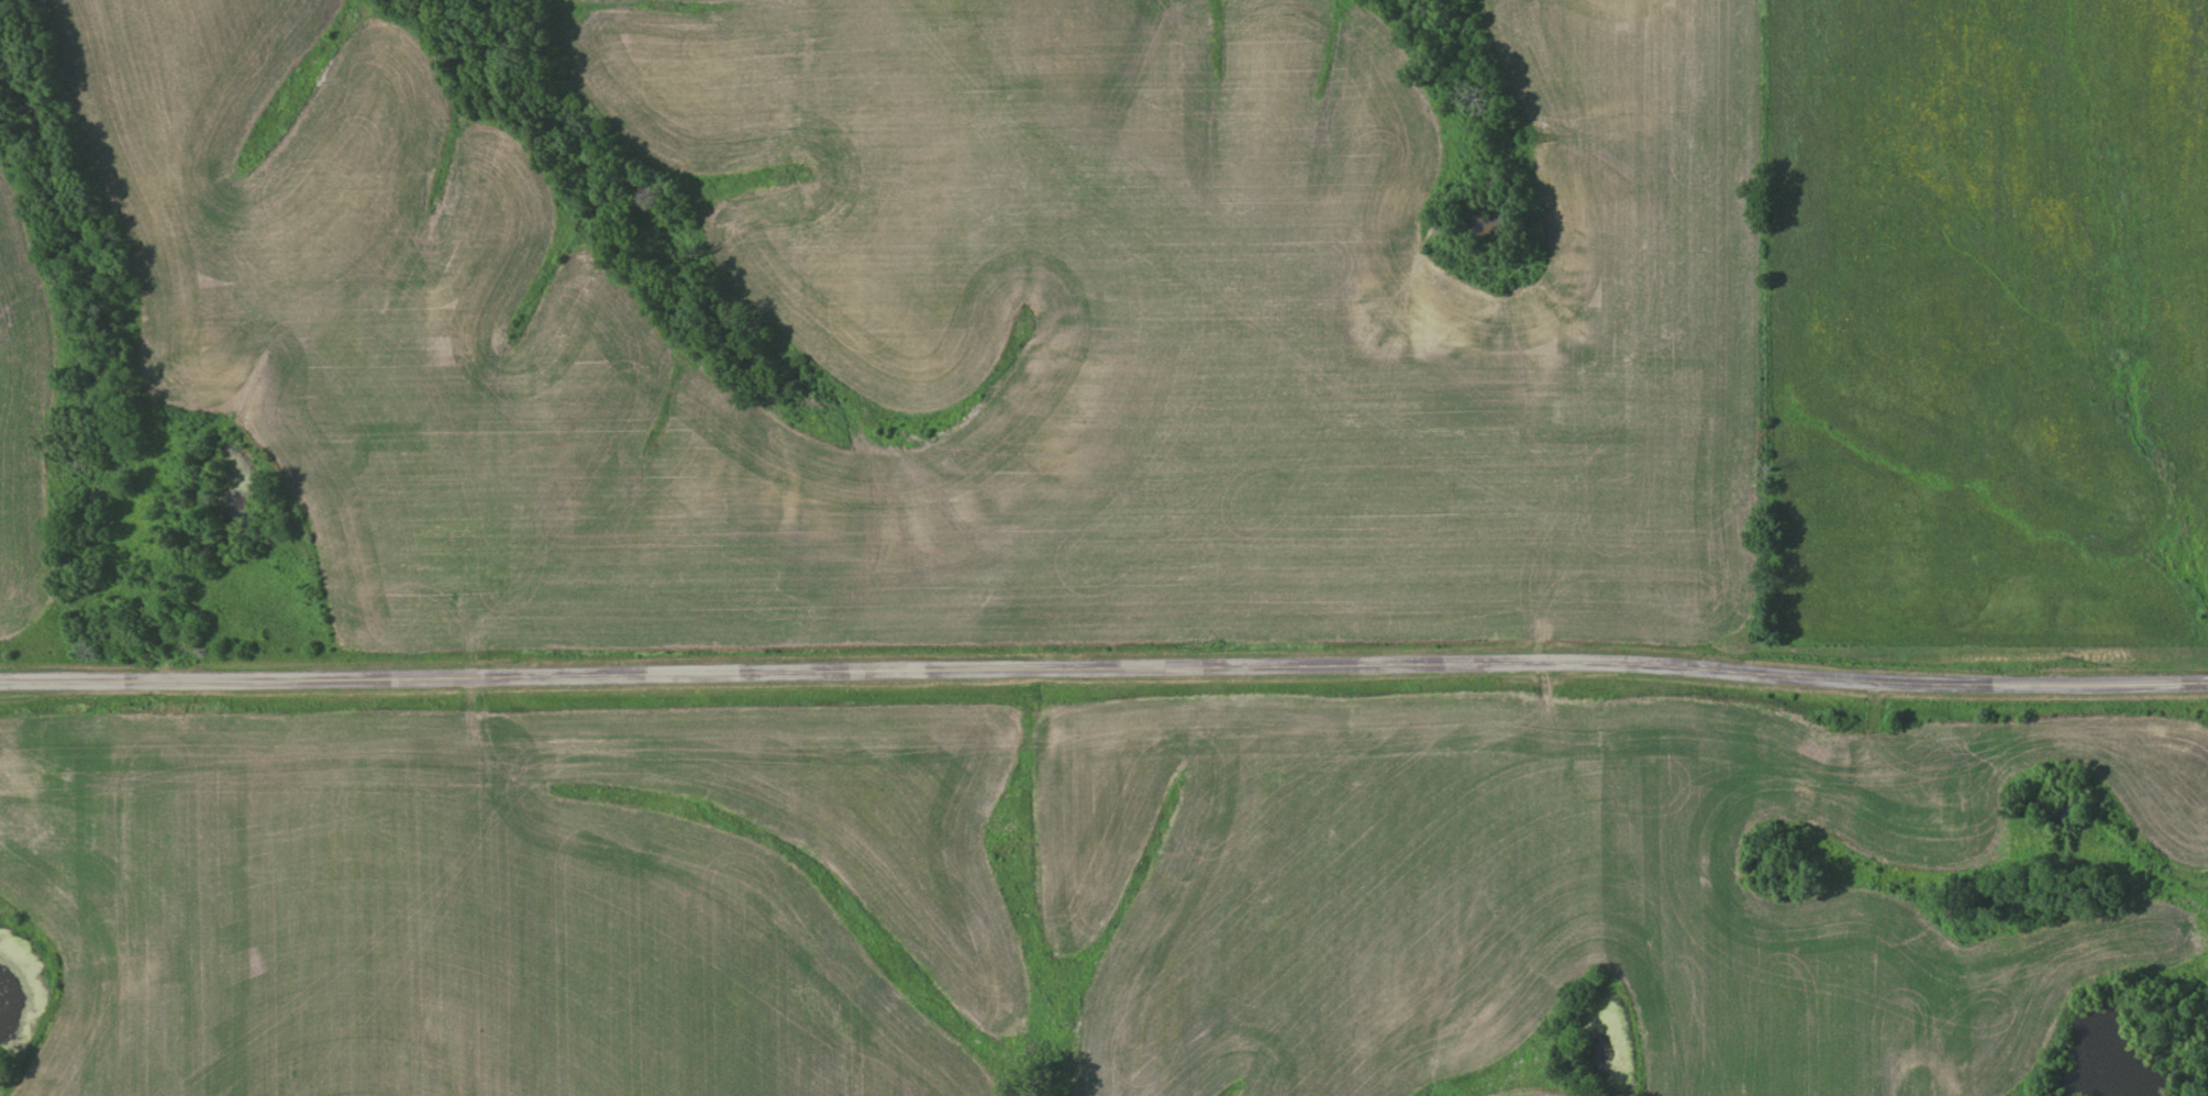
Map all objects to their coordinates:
building: (1, 599)
road: (1103, 666)

